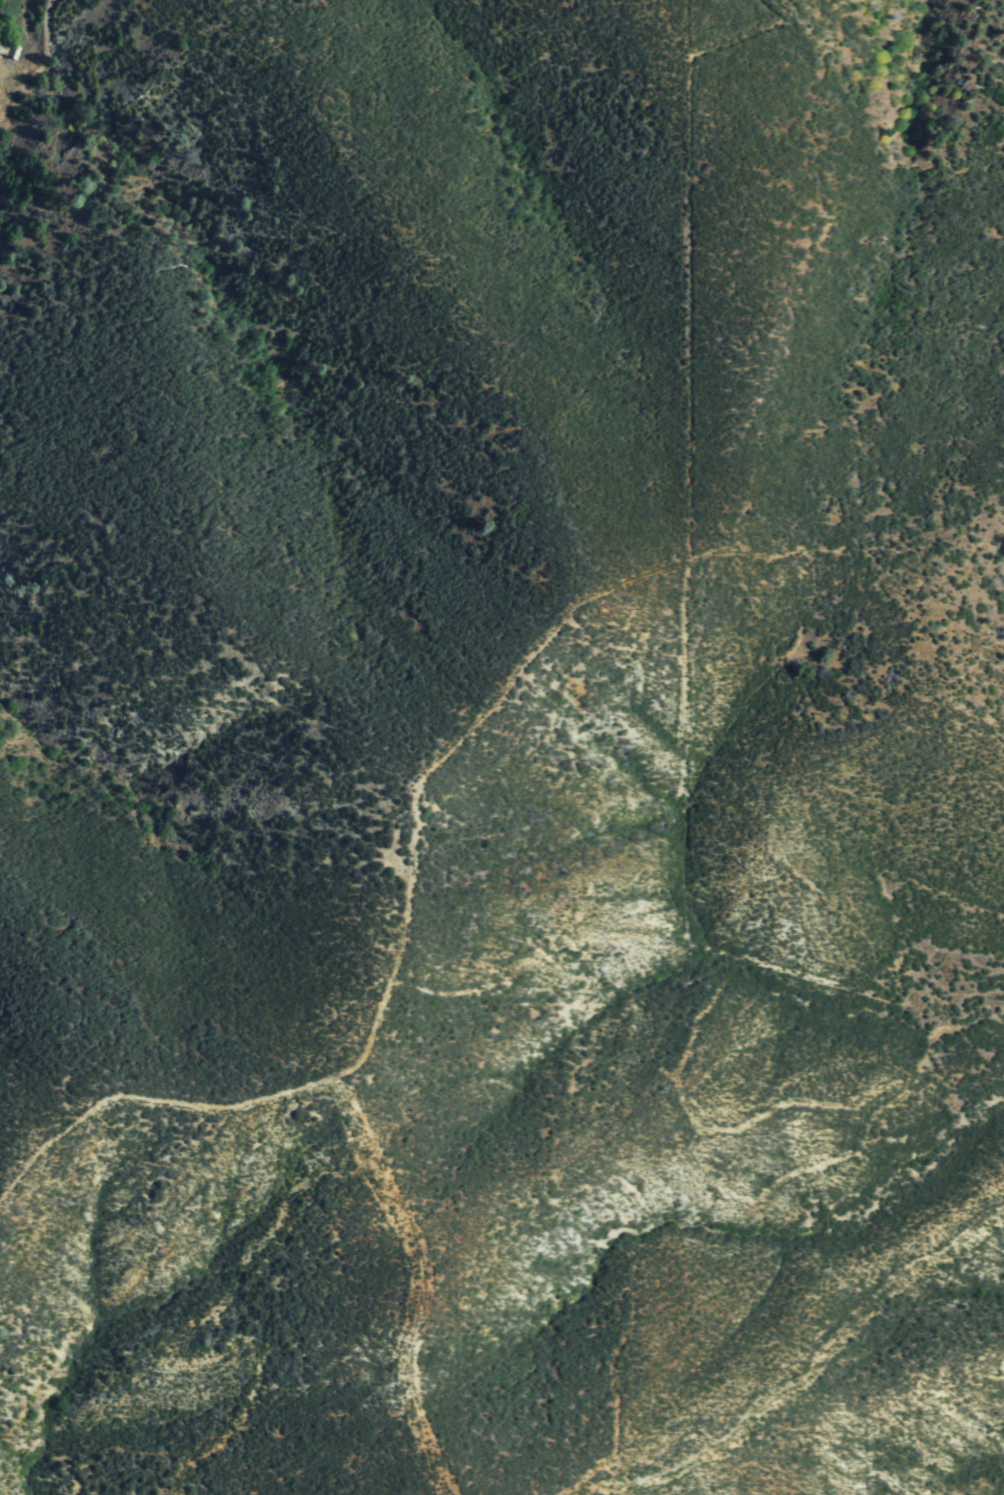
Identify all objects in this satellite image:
building: (9, 50)

